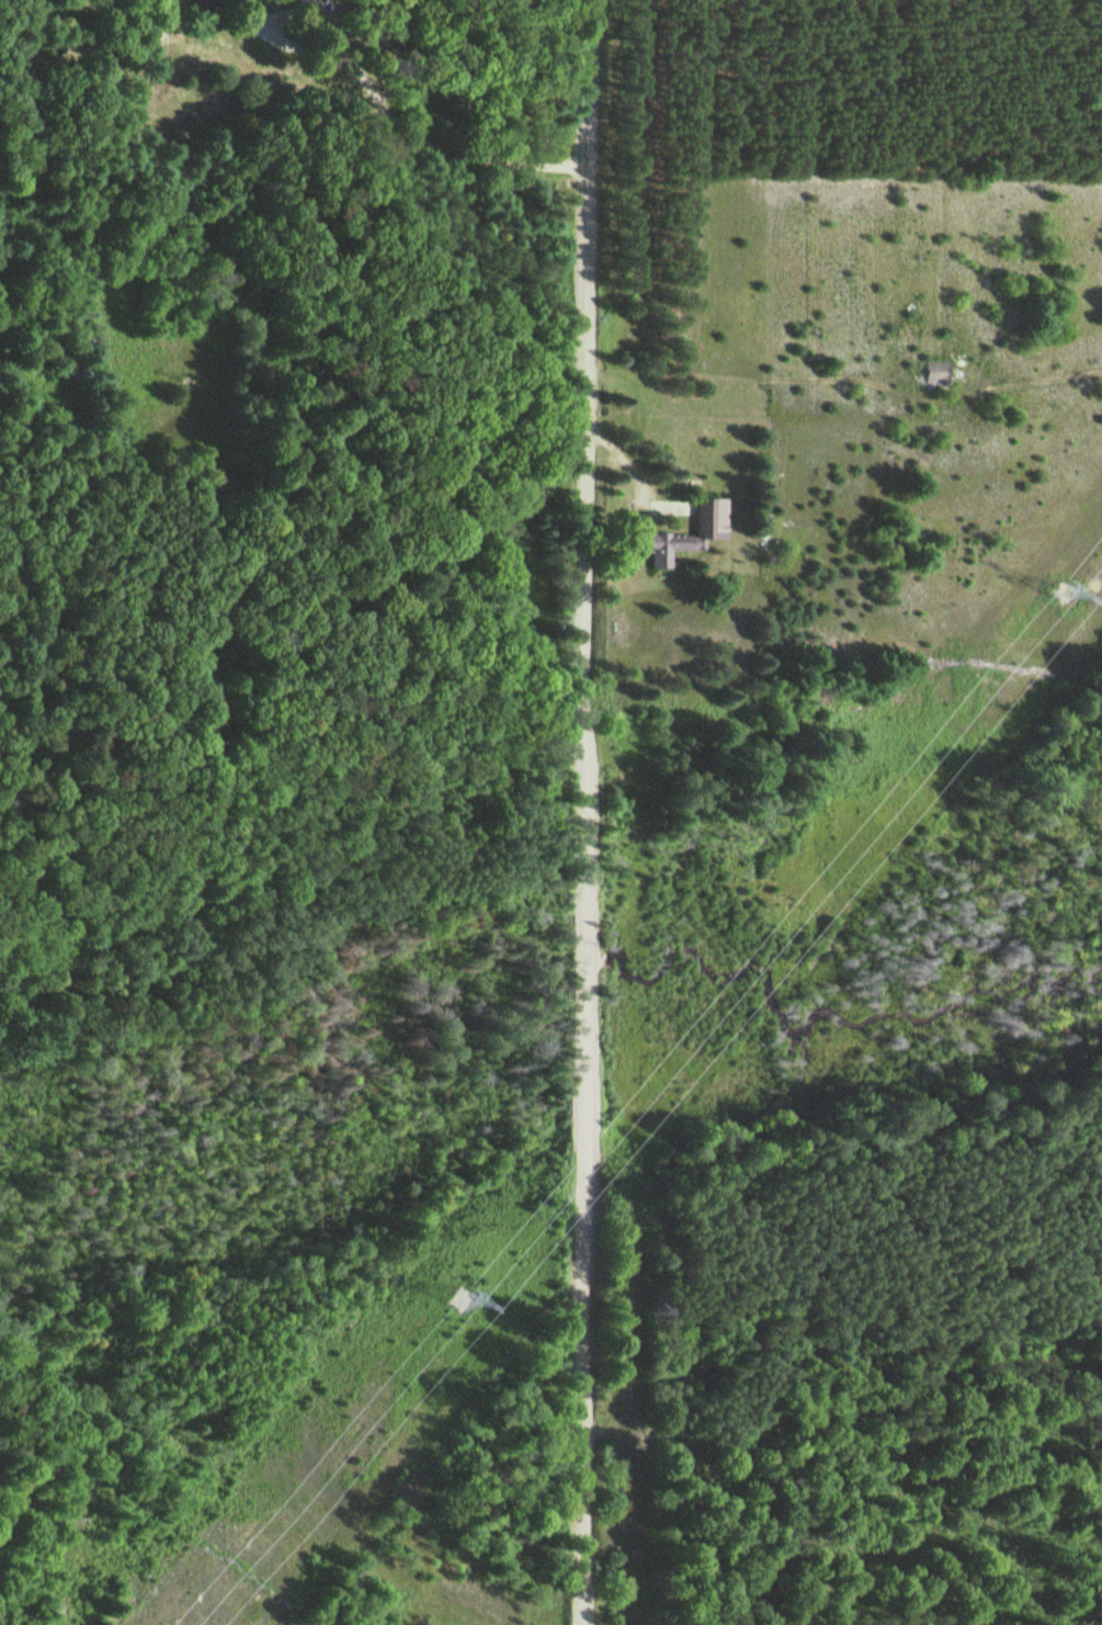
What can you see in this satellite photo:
building: (214, 2)
building: (934, 371)
building: (220, 483)
building: (686, 532)
power tower: (1063, 593)
road: (582, 812)
river: (579, 967)
river: (823, 1006)
river: (319, 1146)
power tower: (457, 1301)

